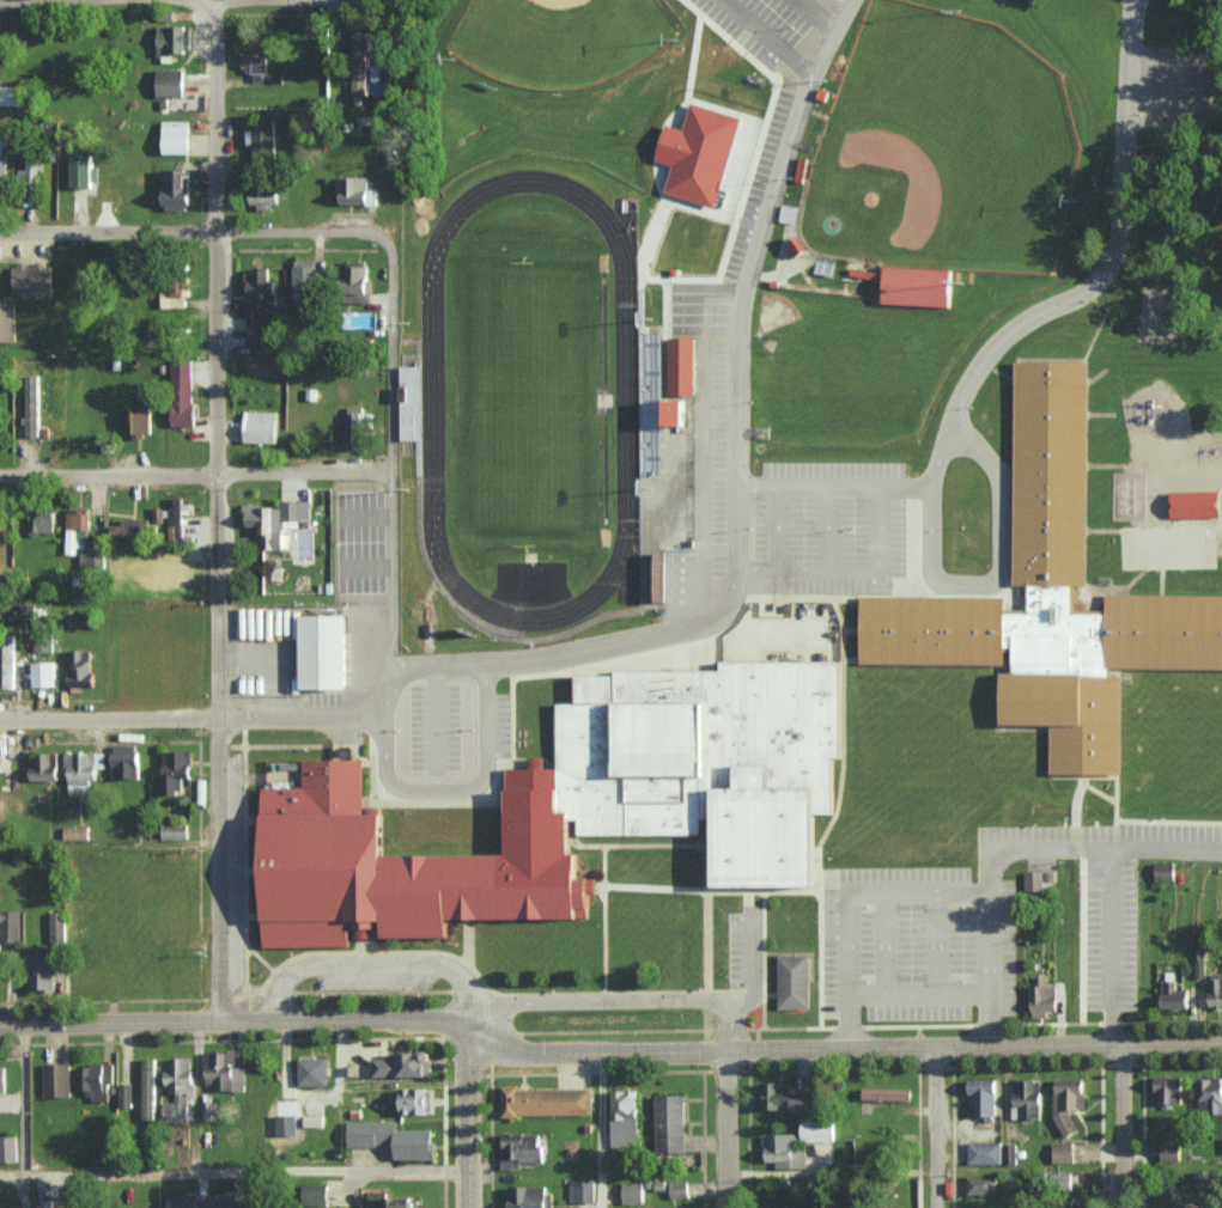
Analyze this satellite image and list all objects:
park: (563, 38)
building: (172, 39)
building: (365, 44)
building: (255, 66)
building: (359, 80)
building: (170, 83)
building: (11, 96)
building: (175, 136)
building: (262, 138)
road: (1118, 146)
park: (944, 150)
building: (699, 153)
building: (2, 170)
building: (29, 171)
building: (84, 171)
building: (175, 189)
building: (355, 191)
building: (263, 193)
road: (194, 231)
building: (798, 246)
building: (31, 279)
building: (358, 281)
building: (305, 282)
road: (738, 283)
building: (918, 287)
building: (260, 289)
building: (172, 293)
building: (7, 322)
building: (260, 331)
building: (685, 366)
building: (183, 392)
track: (431, 401)
building: (408, 402)
park: (524, 403)
building: (31, 405)
building: (680, 413)
building: (139, 422)
building: (353, 425)
building: (260, 426)
road: (955, 447)
road: (389, 466)
road: (194, 475)
building: (1196, 504)
road: (214, 513)
parking lot: (801, 513)
building: (177, 517)
building: (41, 521)
building: (275, 521)
building: (132, 527)
building: (77, 530)
building: (92, 557)
building: (656, 576)
parking lot: (675, 585)
building: (1051, 597)
building: (30, 611)
road: (682, 634)
building: (43, 643)
building: (324, 652)
building: (8, 664)
building: (81, 667)
building: (43, 673)
road: (193, 713)
parking lot: (503, 726)
parking lot: (434, 728)
building: (124, 761)
building: (43, 767)
building: (176, 770)
building: (80, 773)
building: (578, 810)
parking lot: (1172, 829)
building: (175, 831)
building: (75, 832)
parking lot: (1047, 834)
road: (1025, 848)
building: (1165, 870)
parking lot: (235, 873)
building: (1034, 879)
road: (1108, 889)
road: (916, 892)
building: (57, 923)
building: (10, 925)
parking lot: (1108, 933)
parking lot: (919, 942)
parking lot: (736, 951)
building: (1199, 962)
building: (0, 964)
road: (363, 966)
building: (42, 974)
building: (794, 981)
parking lot: (375, 982)
building: (1215, 989)
road: (917, 994)
building: (1173, 995)
building: (1044, 996)
road: (600, 1000)
road: (461, 1014)
road: (243, 1027)
road: (846, 1045)
building: (405, 1063)
building: (223, 1070)
building: (312, 1070)
building: (2, 1078)
building: (96, 1078)
building: (56, 1079)
road: (728, 1080)
building: (147, 1087)
building: (1168, 1088)
building: (178, 1090)
building: (1210, 1092)
building: (887, 1093)
building: (124, 1094)
building: (984, 1097)
building: (1028, 1097)
building: (790, 1098)
building: (414, 1099)
building: (546, 1100)
building: (1068, 1103)
road: (26, 1117)
building: (625, 1117)
building: (312, 1119)
building: (670, 1122)
road: (1125, 1125)
road: (937, 1128)
road: (469, 1129)
building: (817, 1130)
building: (394, 1137)
building: (8, 1147)
building: (521, 1148)
building: (780, 1149)
building: (984, 1152)
building: (1063, 1152)
building: (1171, 1152)
building: (1007, 1153)
road: (13, 1170)
road: (248, 1172)
building: (980, 1184)
building: (582, 1189)
building: (679, 1189)
building: (632, 1191)
building: (256, 1192)
building: (315, 1194)
building: (529, 1196)
building: (393, 1201)
building: (50, 1203)
building: (1190, 1204)
building: (910, 1207)

